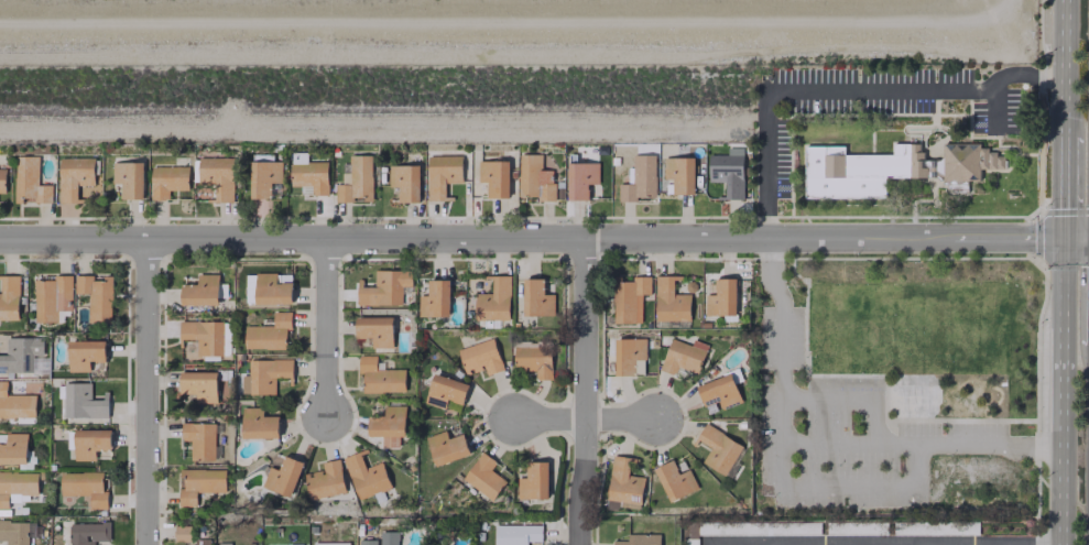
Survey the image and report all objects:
dam: (503, 17)
road: (1064, 68)
road: (1022, 76)
parking lot: (868, 89)
road: (826, 90)
parking lot: (999, 113)
parking lot: (782, 159)
building: (889, 168)
building: (727, 172)
building: (308, 174)
building: (442, 174)
building: (679, 174)
building: (216, 176)
building: (73, 177)
building: (263, 177)
building: (494, 177)
building: (128, 178)
building: (534, 178)
building: (580, 178)
building: (639, 178)
building: (2, 179)
building: (355, 179)
building: (29, 181)
building: (166, 181)
building: (404, 182)
road: (1063, 187)
road: (1005, 237)
traffic signals: (1063, 238)
road: (1076, 238)
road: (475, 241)
building: (384, 287)
building: (268, 288)
building: (200, 291)
building: (96, 295)
building: (9, 297)
building: (52, 297)
building: (536, 298)
building: (629, 298)
building: (721, 298)
building: (434, 299)
building: (493, 299)
building: (669, 301)
road: (327, 329)
building: (375, 330)
building: (268, 333)
building: (206, 336)
building: (20, 353)
building: (85, 355)
building: (629, 356)
building: (683, 356)
building: (479, 357)
building: (532, 359)
building: (263, 374)
building: (379, 377)
building: (198, 384)
building: (445, 391)
road: (1061, 391)
road: (148, 392)
road: (588, 393)
building: (718, 393)
road: (848, 397)
building: (81, 402)
building: (15, 404)
road: (587, 419)
building: (258, 424)
building: (389, 425)
building: (200, 439)
building: (90, 443)
road: (848, 444)
building: (446, 447)
building: (12, 448)
building: (718, 449)
building: (366, 476)
building: (483, 476)
building: (282, 477)
building: (325, 480)
building: (675, 480)
building: (533, 481)
building: (623, 481)
building: (198, 483)
building: (15, 486)
road: (816, 486)
building: (85, 487)
building: (17, 532)
building: (87, 533)
building: (182, 534)
building: (516, 534)
building: (381, 538)
building: (639, 539)
building: (200, 542)
road: (852, 542)
road: (1003, 542)
building: (330, 543)
road: (905, 543)
road: (947, 543)
road: (948, 543)
road: (734, 544)
road: (759, 544)

